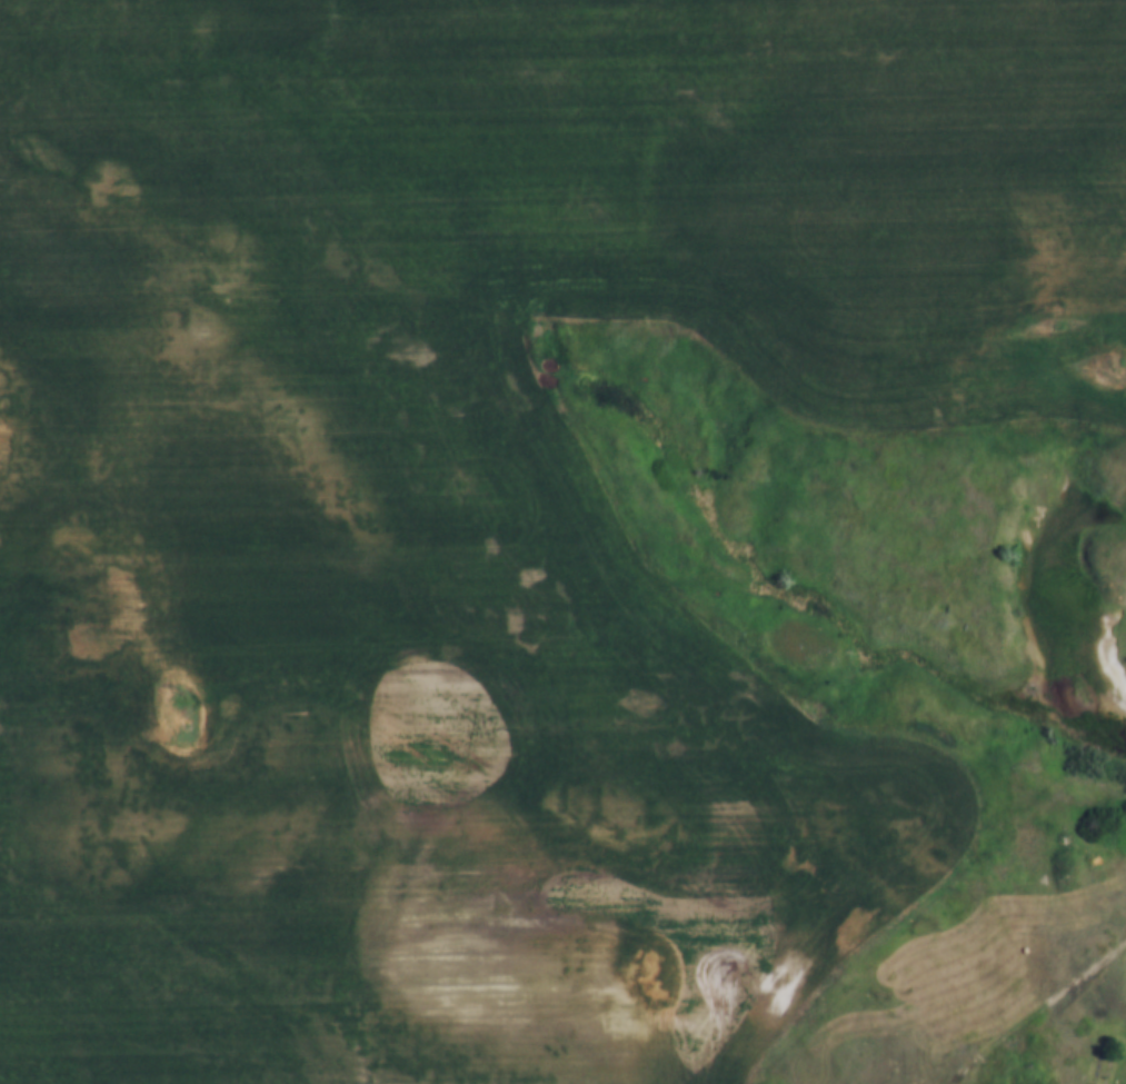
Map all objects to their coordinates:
park: (1058, 973)
road: (1042, 1007)

